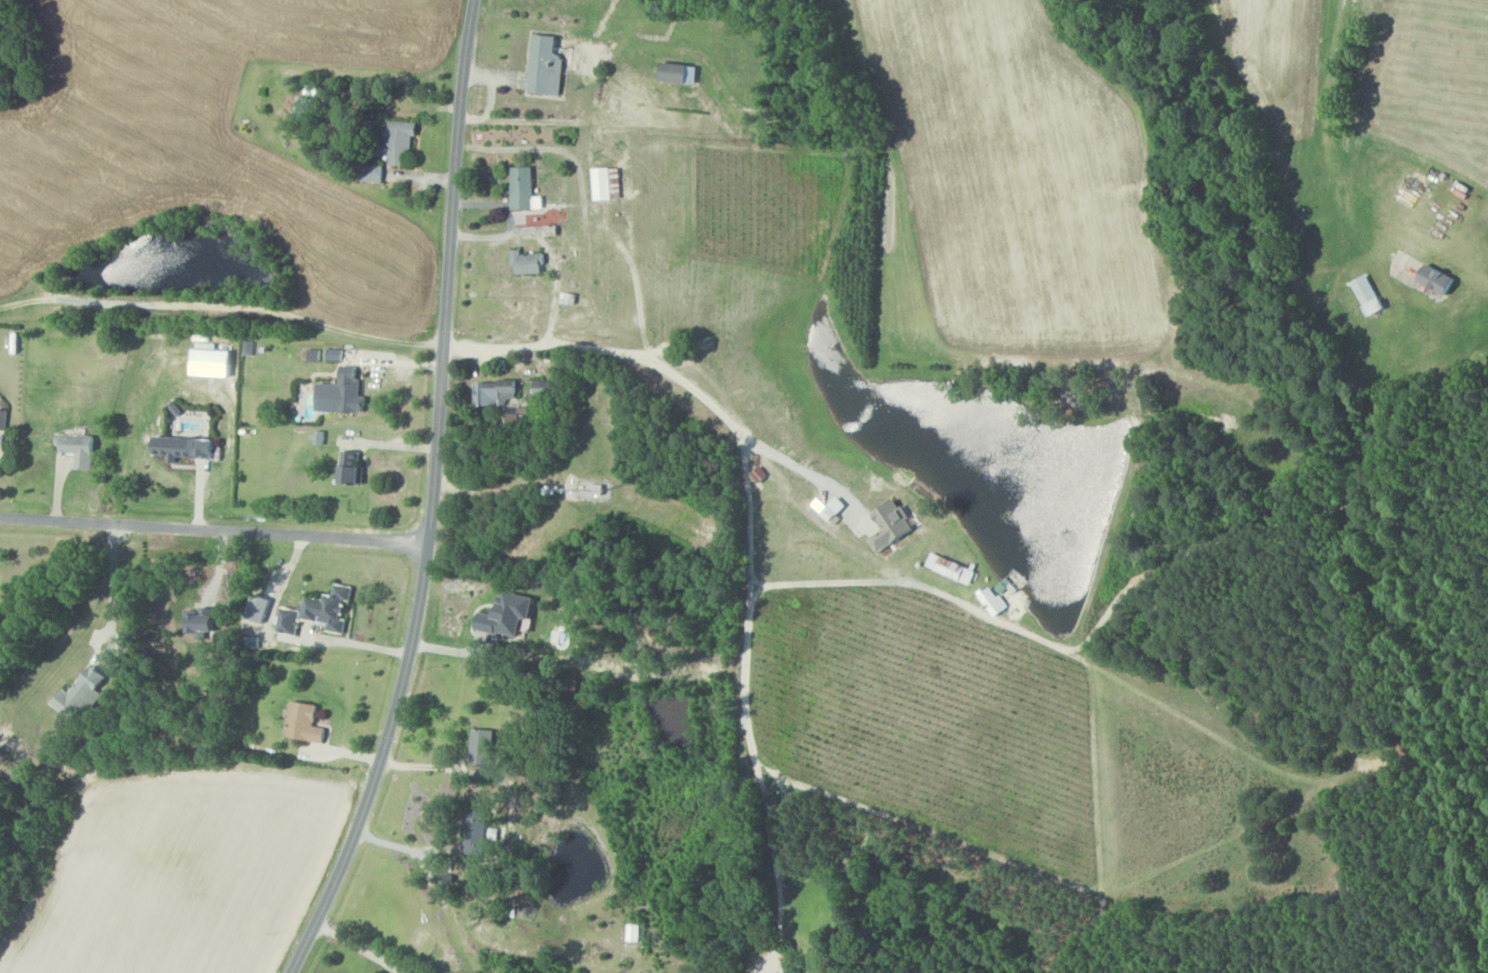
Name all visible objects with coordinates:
building: (547, 64)
building: (680, 72)
building: (304, 108)
building: (402, 140)
building: (374, 172)
building: (607, 182)
building: (526, 188)
road: (588, 210)
road: (510, 222)
building: (529, 261)
road: (556, 273)
building: (1441, 279)
building: (1371, 294)
road: (223, 304)
road: (651, 365)
building: (545, 387)
building: (345, 392)
building: (187, 447)
building: (79, 448)
building: (355, 467)
building: (597, 489)
road: (433, 497)
building: (827, 509)
building: (895, 525)
road: (214, 530)
building: (952, 568)
road: (908, 583)
road: (113, 585)
building: (1001, 597)
building: (333, 608)
building: (509, 614)
building: (206, 619)
building: (292, 621)
building: (83, 694)
road: (746, 705)
building: (307, 722)
building: (482, 746)
building: (477, 833)
road: (399, 846)
road: (359, 947)
building: (794, 971)

